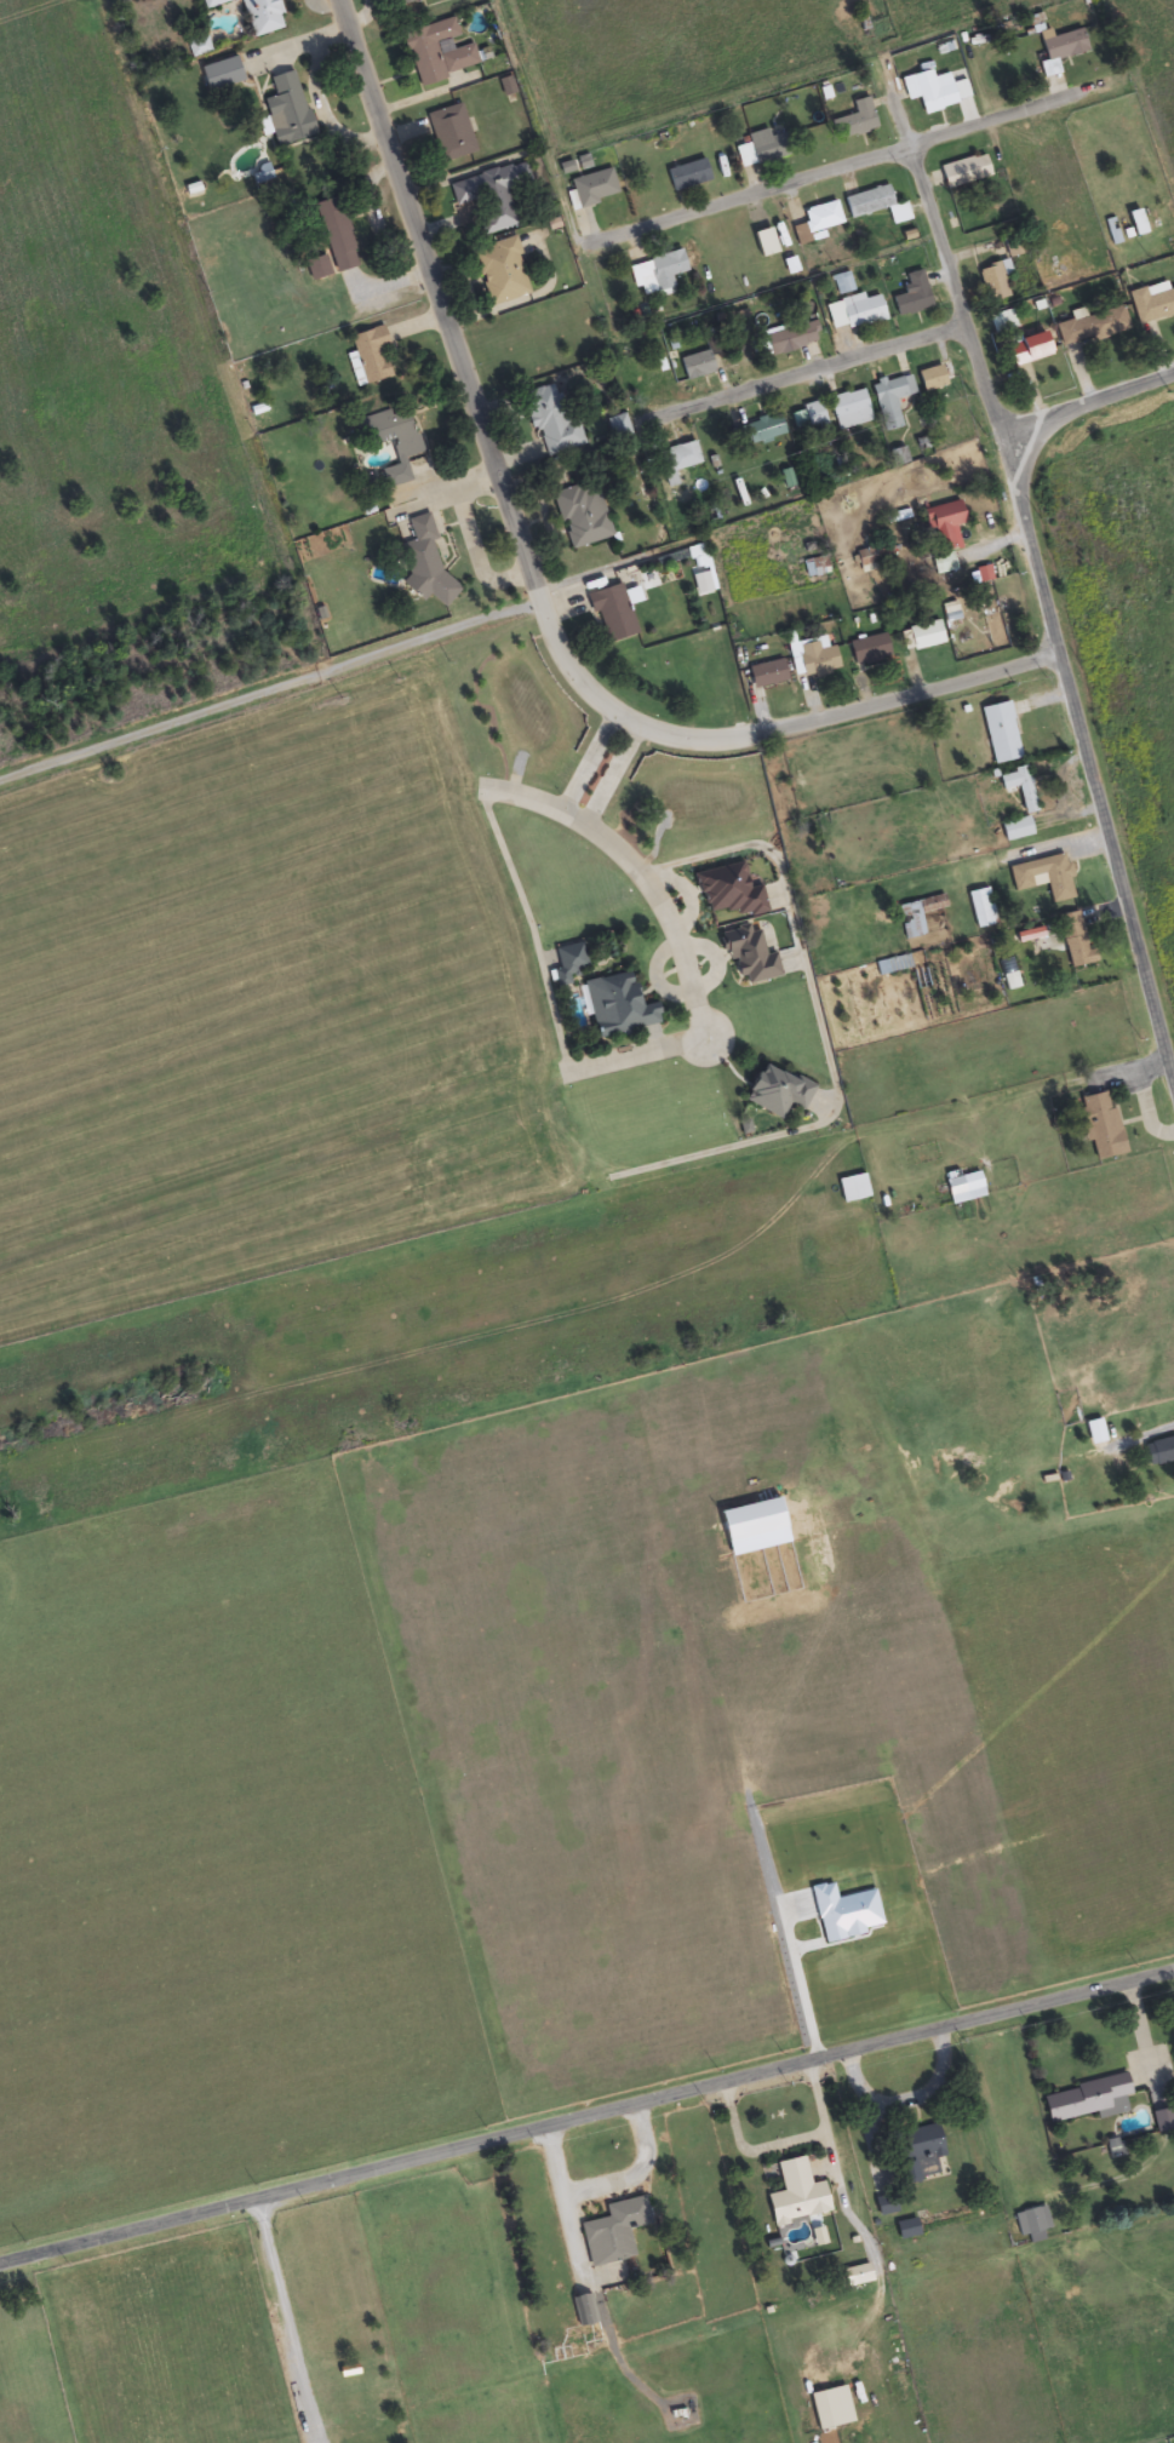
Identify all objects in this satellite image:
building: (397, 1)
building: (217, 2)
building: (262, 16)
building: (197, 48)
building: (1059, 50)
building: (439, 52)
building: (937, 92)
building: (286, 111)
building: (853, 122)
building: (449, 133)
building: (755, 149)
road: (827, 165)
building: (962, 172)
building: (686, 176)
building: (594, 188)
building: (489, 197)
building: (875, 206)
building: (817, 222)
building: (1135, 223)
building: (333, 235)
building: (763, 243)
building: (316, 268)
building: (500, 273)
building: (655, 274)
building: (993, 281)
building: (910, 296)
building: (1151, 303)
building: (854, 311)
building: (1001, 321)
building: (1089, 327)
building: (790, 339)
building: (1026, 349)
building: (371, 355)
building: (694, 365)
road: (812, 369)
building: (930, 378)
road: (468, 398)
building: (890, 400)
road: (1084, 401)
building: (848, 409)
building: (807, 417)
building: (550, 421)
building: (755, 432)
building: (403, 445)
building: (897, 457)
building: (677, 460)
building: (580, 515)
building: (943, 528)
building: (423, 562)
building: (943, 564)
road: (1032, 572)
building: (611, 613)
building: (921, 636)
building: (867, 649)
building: (815, 659)
building: (764, 675)
road: (269, 704)
road: (844, 712)
building: (1000, 733)
building: (1018, 786)
building: (1014, 830)
building: (1058, 882)
building: (979, 908)
building: (909, 921)
building: (1073, 940)
building: (567, 962)
building: (1009, 980)
building: (617, 1005)
building: (774, 1091)
building: (1099, 1125)
building: (963, 1187)
building: (1115, 1422)
building: (1158, 1452)
building: (1086, 2100)
road: (586, 2114)
building: (915, 2150)
building: (795, 2195)
building: (1030, 2225)
building: (612, 2232)
building: (582, 2311)
road: (327, 2317)

